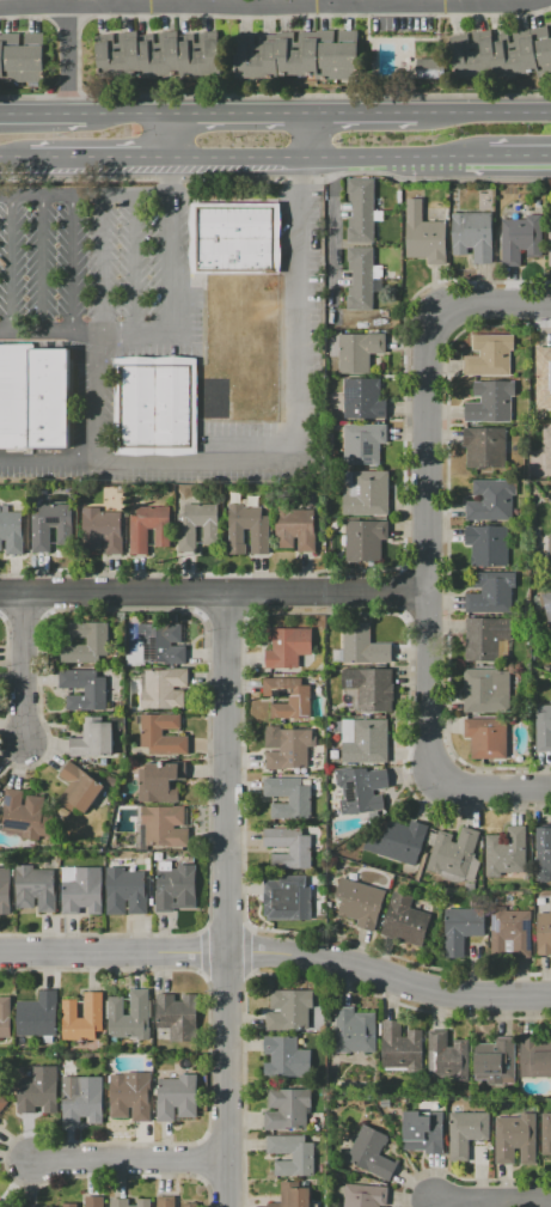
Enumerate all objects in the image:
road: (118, 4)
road: (270, 6)
building: (298, 55)
building: (501, 55)
building: (158, 57)
building: (22, 59)
road: (66, 61)
building: (428, 68)
road: (483, 116)
road: (45, 117)
road: (104, 117)
road: (145, 117)
road: (228, 117)
road: (294, 117)
road: (360, 117)
road: (305, 138)
road: (173, 140)
road: (520, 154)
road: (331, 157)
road: (128, 163)
road: (55, 164)
road: (13, 165)
road: (67, 197)
building: (361, 211)
building: (424, 234)
building: (472, 234)
building: (234, 238)
building: (520, 238)
building: (549, 243)
road: (16, 264)
road: (47, 264)
road: (78, 264)
road: (105, 266)
road: (133, 266)
building: (362, 278)
road: (167, 329)
building: (360, 352)
building: (489, 355)
building: (543, 377)
road: (102, 396)
building: (32, 397)
building: (363, 398)
building: (490, 402)
building: (154, 406)
building: (362, 443)
building: (485, 447)
building: (549, 449)
road: (302, 459)
building: (366, 493)
building: (491, 500)
building: (51, 526)
building: (295, 529)
building: (102, 530)
building: (259, 531)
building: (12, 532)
building: (188, 535)
building: (164, 536)
building: (366, 540)
building: (488, 545)
road: (431, 547)
building: (549, 556)
road: (216, 593)
building: (491, 593)
building: (543, 604)
building: (485, 638)
building: (97, 640)
building: (158, 645)
building: (365, 645)
building: (287, 646)
road: (25, 670)
building: (163, 688)
building: (371, 688)
building: (84, 689)
building: (485, 690)
building: (300, 700)
building: (543, 729)
building: (152, 732)
building: (98, 737)
building: (485, 738)
building: (367, 743)
building: (287, 748)
road: (226, 773)
building: (159, 781)
building: (79, 786)
building: (359, 788)
building: (288, 798)
building: (0, 815)
building: (25, 815)
building: (165, 825)
building: (398, 841)
building: (289, 847)
building: (506, 852)
building: (543, 854)
building: (451, 855)
building: (35, 888)
building: (175, 888)
building: (81, 889)
building: (4, 890)
building: (125, 891)
building: (288, 900)
building: (359, 902)
building: (405, 921)
building: (461, 928)
building: (513, 932)
building: (544, 933)
road: (114, 952)
road: (390, 976)
building: (93, 1008)
building: (289, 1010)
building: (37, 1016)
building: (129, 1016)
building: (177, 1016)
building: (5, 1018)
building: (355, 1030)
building: (400, 1048)
building: (447, 1056)
building: (534, 1056)
building: (286, 1057)
building: (495, 1061)
road: (227, 1079)
building: (38, 1090)
building: (129, 1097)
building: (177, 1097)
building: (81, 1099)
building: (2, 1102)
building: (287, 1109)
building: (423, 1132)
building: (465, 1133)
building: (545, 1134)
building: (515, 1139)
building: (371, 1153)
building: (292, 1154)
road: (131, 1165)
building: (295, 1195)
building: (362, 1195)
building: (67, 1201)
building: (93, 1201)
building: (118, 1201)
building: (165, 1201)
building: (189, 1201)
road: (494, 1203)
building: (2, 1205)
building: (48, 1206)

